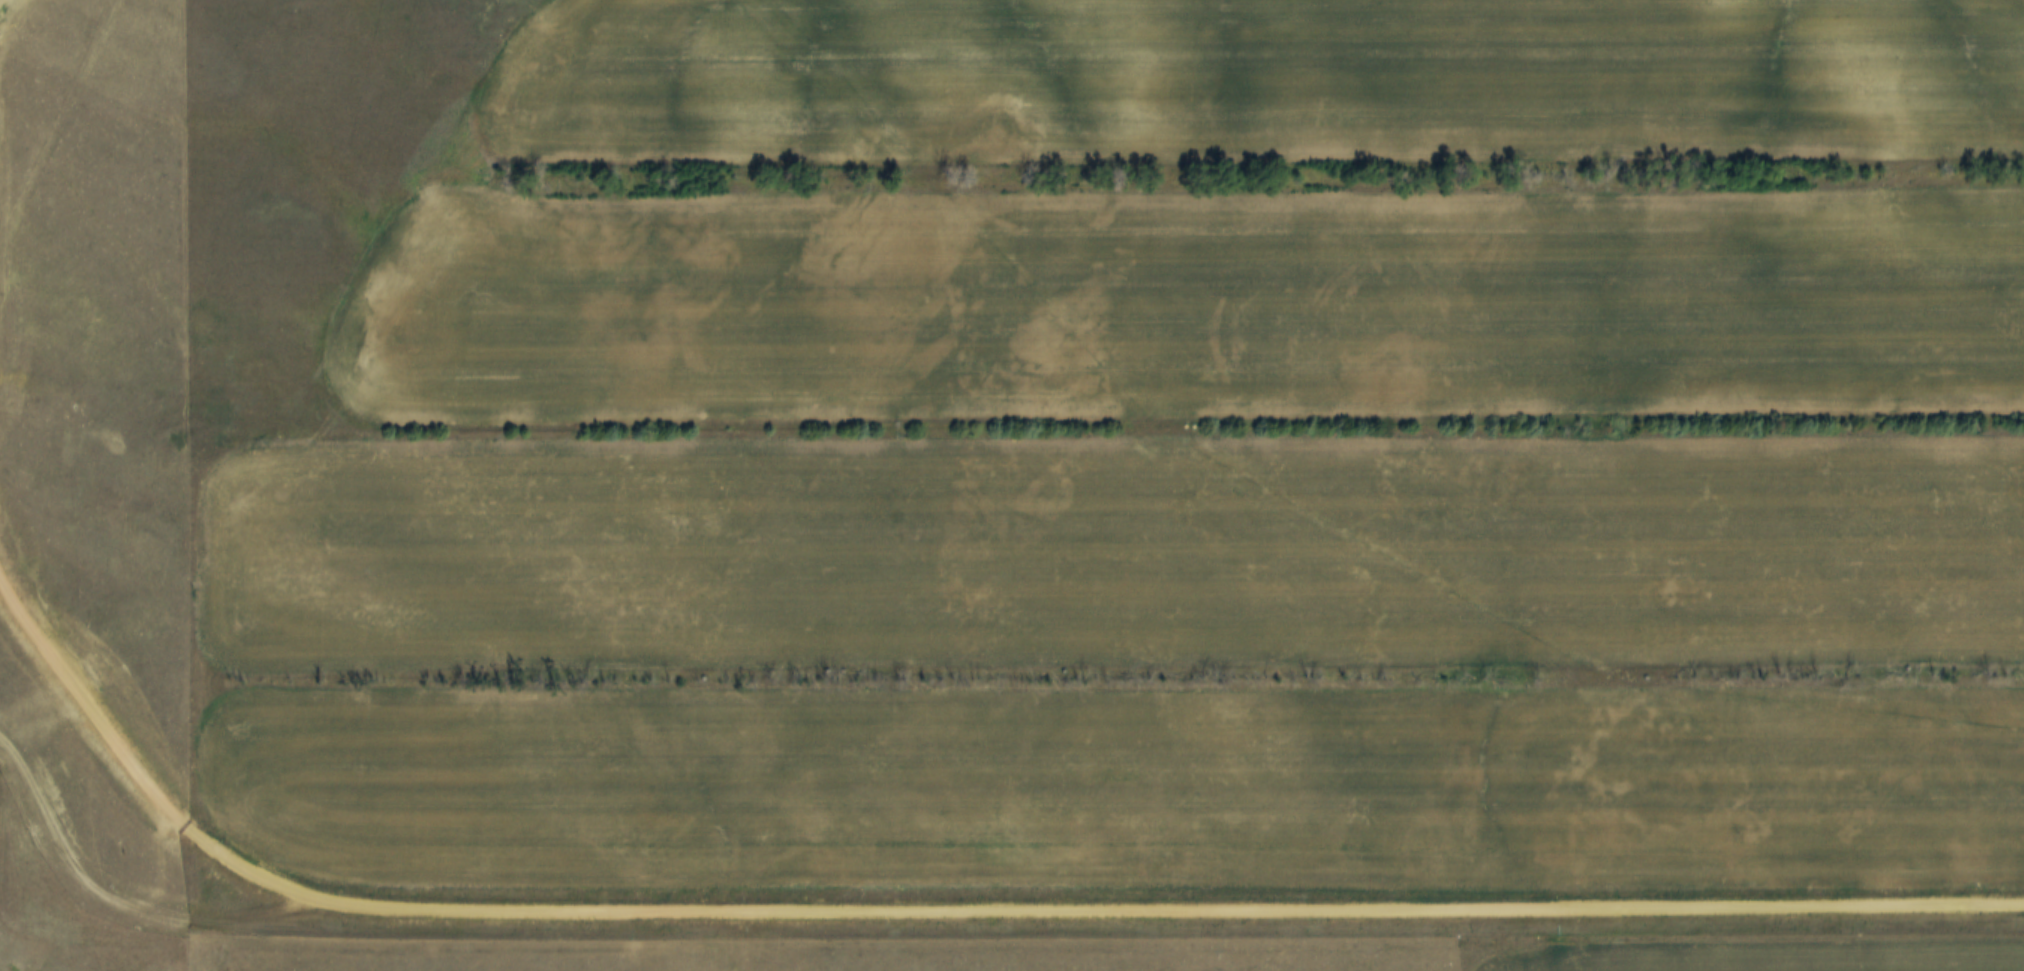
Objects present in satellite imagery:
road: (126, 766)
road: (114, 893)
road: (1164, 903)

